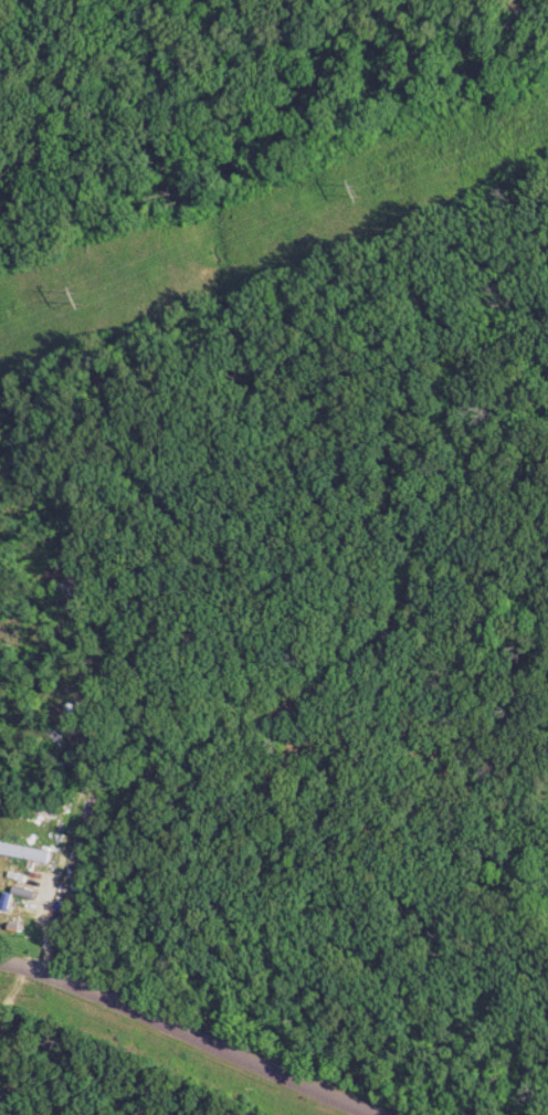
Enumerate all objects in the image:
building: (27, 855)
building: (27, 875)
building: (19, 911)
road: (189, 1033)

